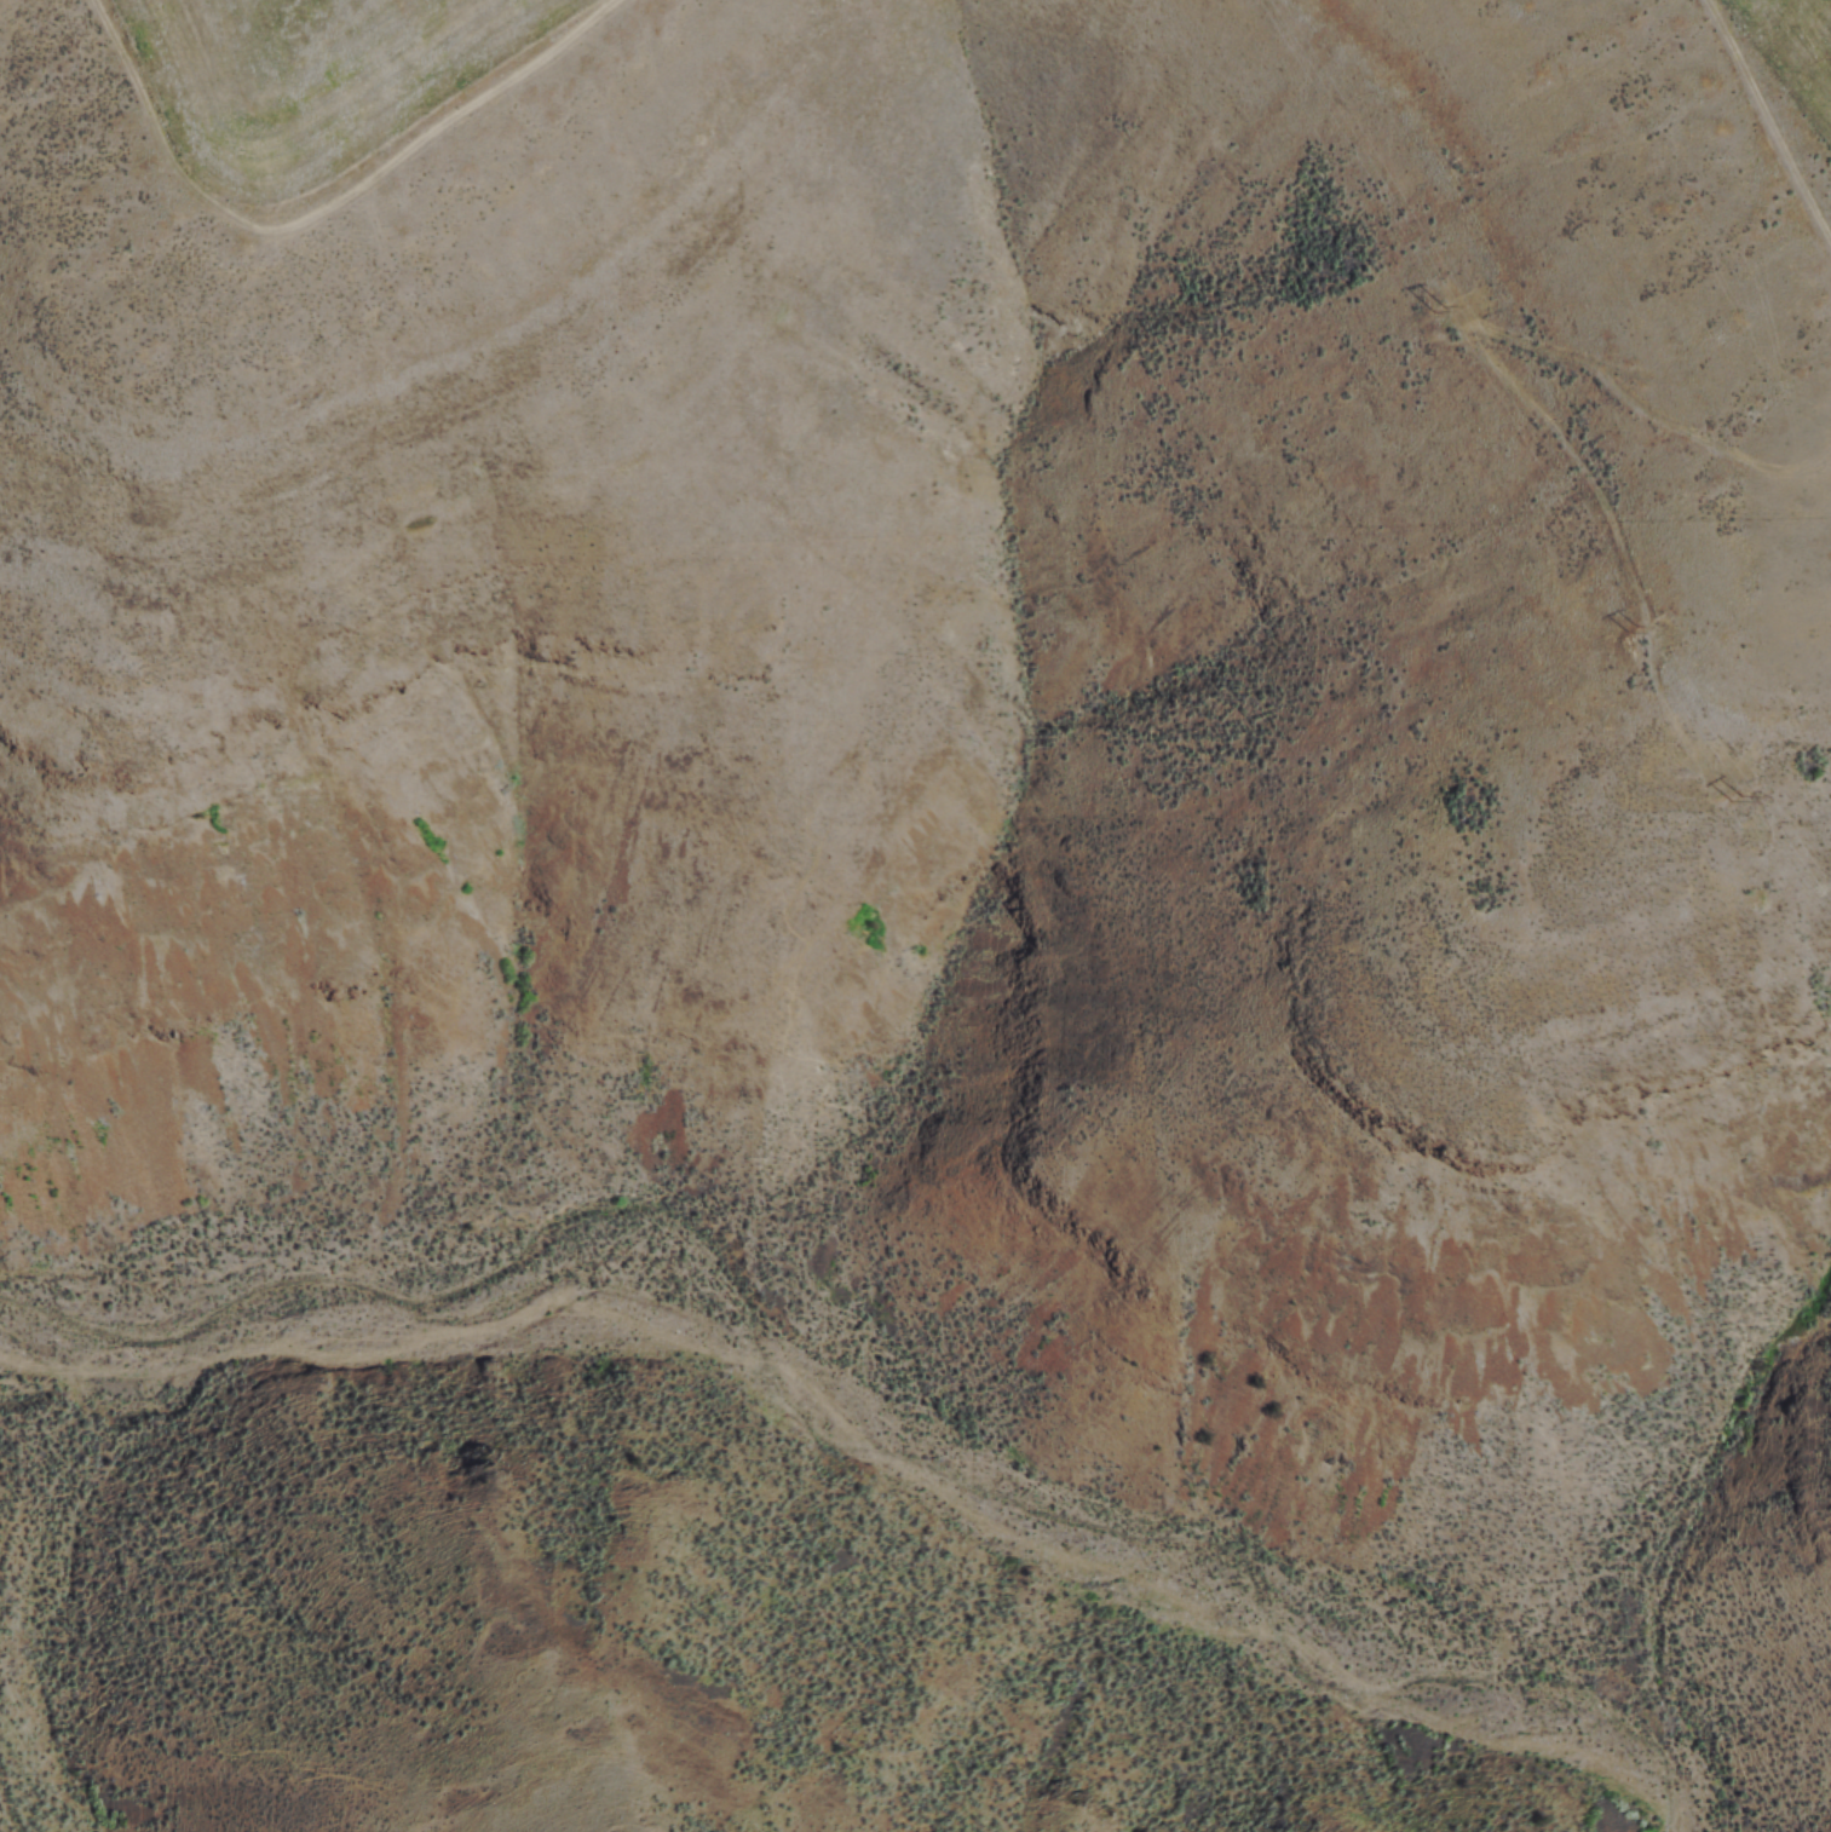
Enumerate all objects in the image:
power tower: (1440, 307)
power tower: (1635, 626)
power tower: (1740, 796)

